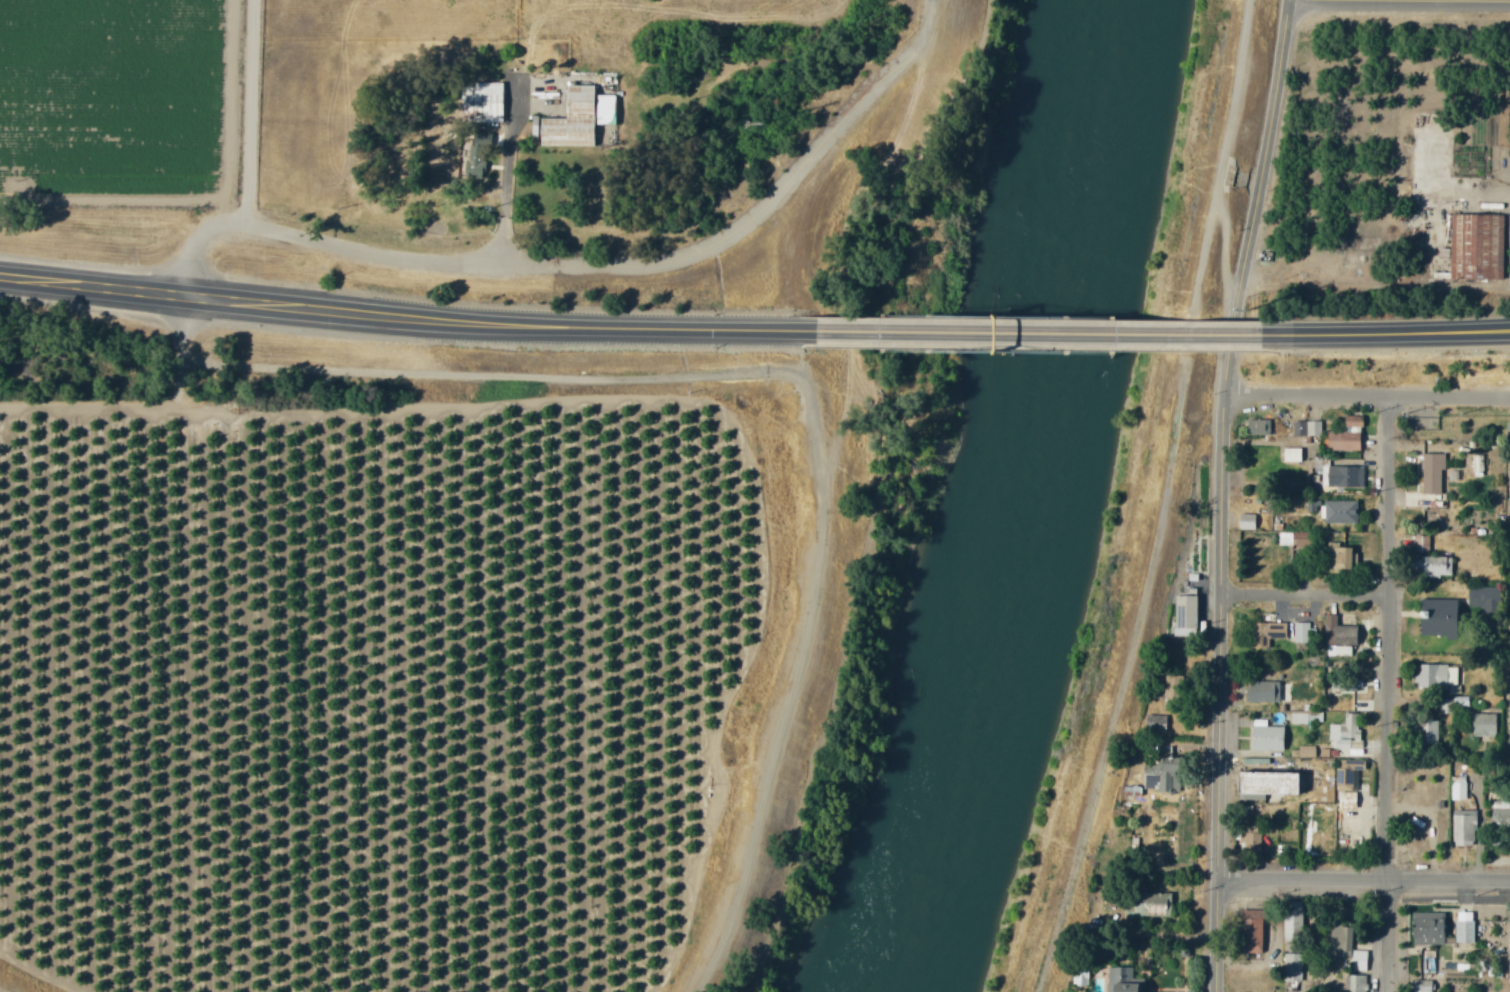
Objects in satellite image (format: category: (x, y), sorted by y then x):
road: (1403, 1)
building: (484, 100)
road: (252, 109)
building: (603, 109)
building: (569, 118)
road: (1278, 118)
road: (504, 203)
building: (1475, 247)
road: (887, 252)
road: (560, 265)
road: (36, 280)
road: (166, 293)
road: (537, 326)
road: (1038, 333)
road: (1385, 333)
railway: (755, 337)
road: (779, 370)
road: (1371, 393)
road: (115, 403)
building: (1256, 427)
building: (1307, 429)
building: (1507, 433)
building: (1345, 436)
building: (1291, 455)
building: (1477, 465)
building: (1431, 473)
building: (1507, 474)
building: (1344, 476)
river: (1015, 504)
building: (1507, 510)
building: (1340, 512)
building: (1246, 521)
building: (1422, 544)
road: (1229, 557)
building: (1338, 559)
building: (1432, 566)
road: (1306, 597)
building: (1484, 599)
building: (1183, 612)
building: (1437, 620)
building: (1267, 632)
building: (1305, 633)
building: (1437, 678)
building: (1170, 691)
building: (1262, 692)
road: (1387, 692)
building: (1293, 706)
building: (1445, 707)
building: (1298, 718)
building: (1156, 723)
building: (1483, 725)
building: (1344, 731)
building: (1429, 732)
building: (1266, 738)
building: (1306, 751)
building: (1347, 783)
building: (1263, 784)
building: (1458, 788)
building: (1139, 794)
building: (1500, 819)
building: (1463, 828)
road: (1366, 881)
building: (1151, 904)
building: (1291, 917)
building: (1463, 930)
building: (1426, 932)
building: (1247, 934)
road: (1222, 935)
building: (1340, 940)
building: (1358, 959)
building: (1292, 966)
building: (1122, 980)
building: (1355, 982)

